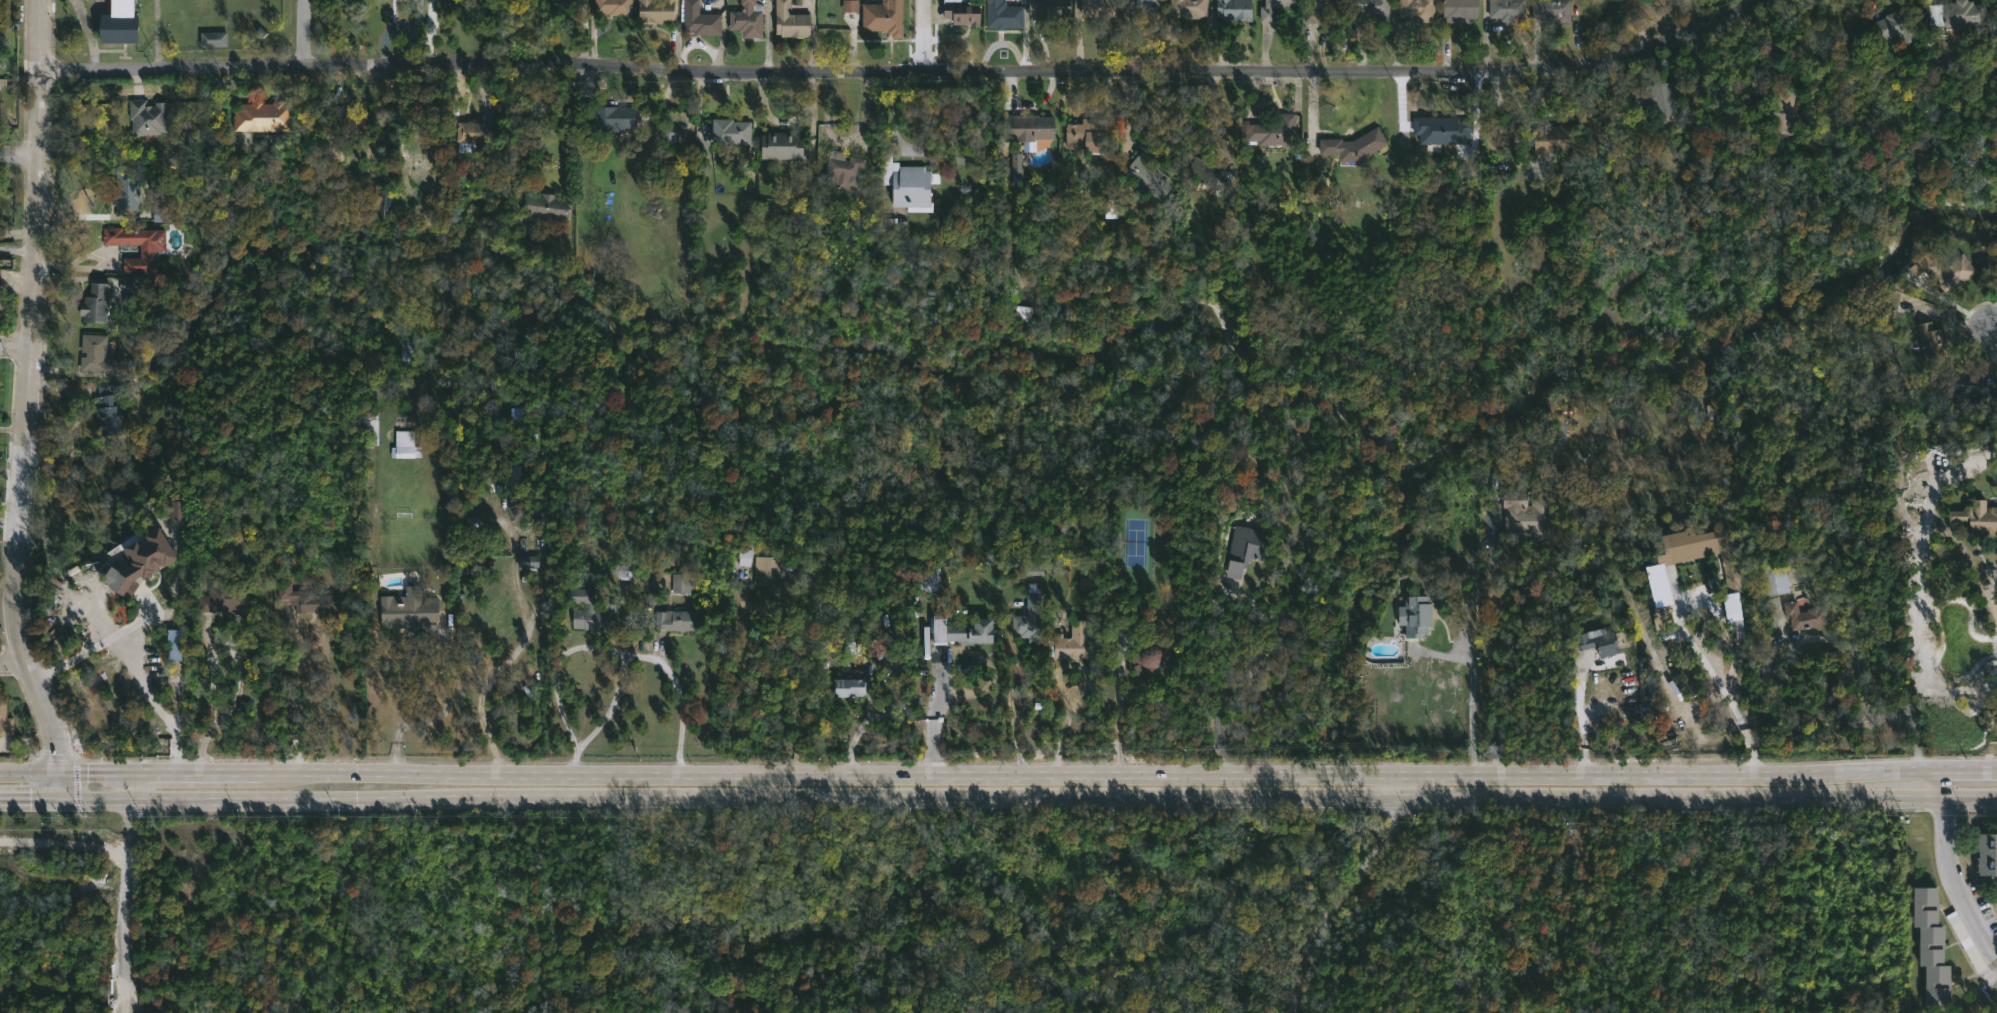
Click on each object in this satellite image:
building: (1141, 2)
building: (564, 3)
building: (611, 6)
building: (850, 6)
building: (1051, 7)
building: (1095, 7)
building: (1187, 8)
building: (1370, 8)
building: (1233, 9)
building: (1315, 9)
building: (1416, 9)
building: (1552, 9)
building: (654, 10)
building: (1506, 10)
building: (960, 11)
building: (1277, 11)
building: (1458, 11)
building: (1963, 13)
building: (1002, 14)
building: (884, 17)
building: (746, 18)
building: (698, 20)
building: (792, 21)
building: (118, 23)
building: (1893, 26)
road: (304, 34)
road: (925, 36)
building: (212, 39)
road: (907, 72)
building: (1758, 82)
building: (1657, 98)
building: (1785, 111)
building: (148, 116)
building: (262, 116)
building: (360, 117)
building: (612, 118)
building: (1030, 128)
building: (1272, 130)
building: (1440, 130)
building: (728, 131)
building: (475, 132)
building: (1085, 135)
building: (1556, 139)
building: (784, 145)
building: (1352, 146)
road: (19, 154)
building: (1016, 165)
building: (1209, 173)
building: (843, 174)
building: (1149, 176)
building: (909, 184)
building: (125, 193)
building: (389, 202)
building: (543, 207)
building: (162, 215)
building: (891, 224)
road: (17, 250)
building: (148, 253)
building: (1991, 262)
road: (92, 268)
building: (1949, 272)
road: (1952, 302)
building: (98, 304)
building: (1022, 313)
road: (1949, 317)
road: (1996, 334)
building: (1931, 341)
road: (14, 348)
building: (95, 354)
building: (1968, 386)
road: (24, 402)
building: (108, 412)
building: (516, 415)
building: (1563, 427)
building: (371, 431)
building: (405, 444)
building: (513, 476)
building: (176, 510)
building: (1526, 516)
building: (1975, 517)
building: (156, 541)
building: (1236, 550)
building: (743, 557)
building: (527, 561)
building: (766, 570)
building: (1726, 574)
building: (1774, 579)
building: (680, 582)
building: (935, 583)
building: (1085, 583)
building: (1657, 585)
building: (122, 588)
building: (226, 599)
building: (304, 600)
building: (1731, 607)
building: (408, 610)
building: (588, 612)
building: (1048, 615)
building: (1803, 616)
building: (1414, 617)
building: (1029, 620)
building: (678, 621)
building: (975, 634)
road: (1487, 643)
building: (1590, 643)
road: (101, 644)
road: (585, 644)
building: (174, 645)
building: (1080, 645)
building: (1155, 658)
road: (13, 663)
road: (1250, 663)
road: (1709, 669)
road: (52, 670)
road: (1472, 684)
building: (852, 688)
road: (680, 690)
road: (291, 698)
road: (210, 699)
road: (1121, 702)
road: (1009, 707)
road: (1580, 712)
road: (440, 714)
road: (1875, 717)
building: (5, 720)
road: (793, 720)
road: (1176, 768)
traffic signals: (57, 770)
road: (177, 770)
road: (1176, 795)
road: (178, 797)
traffic signals: (60, 798)
building: (1987, 852)
road: (1951, 872)
road: (1338, 886)
road: (133, 891)
airport: (817, 919)
building: (1931, 944)

